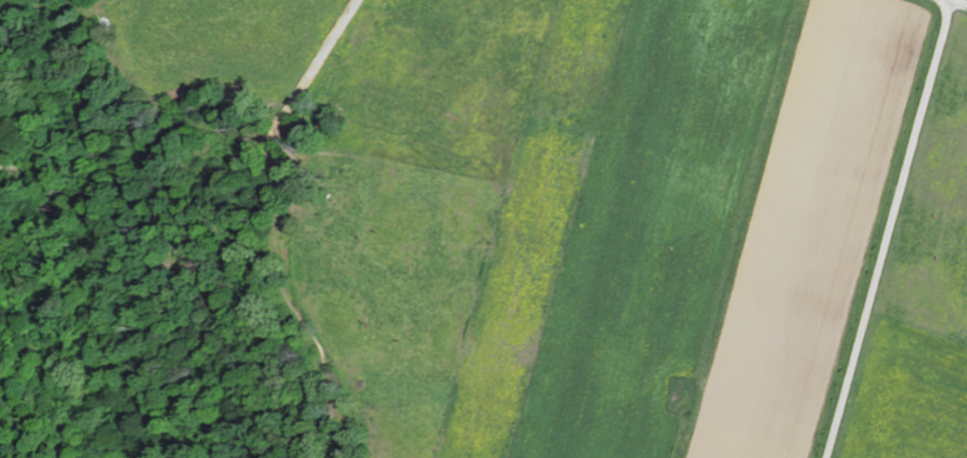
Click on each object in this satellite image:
park: (681, 392)

